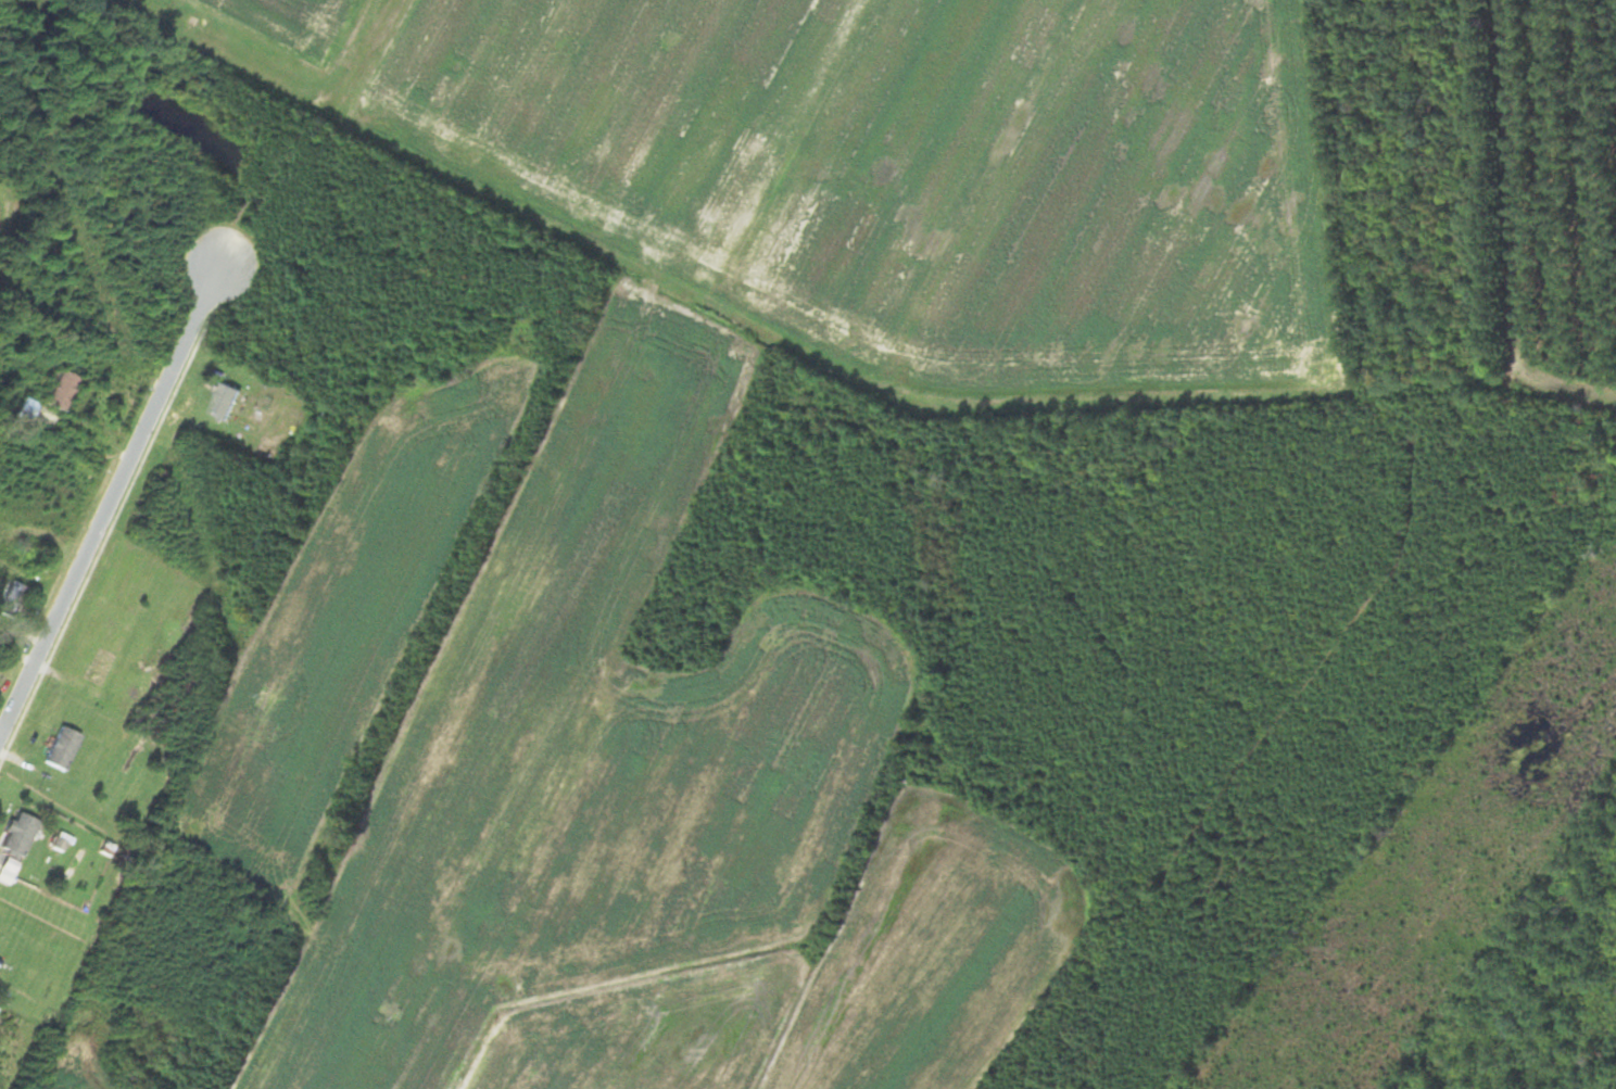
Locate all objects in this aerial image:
building: (55, 389)
building: (21, 408)
road: (109, 492)
building: (9, 599)
building: (93, 668)
building: (56, 748)
building: (14, 834)

